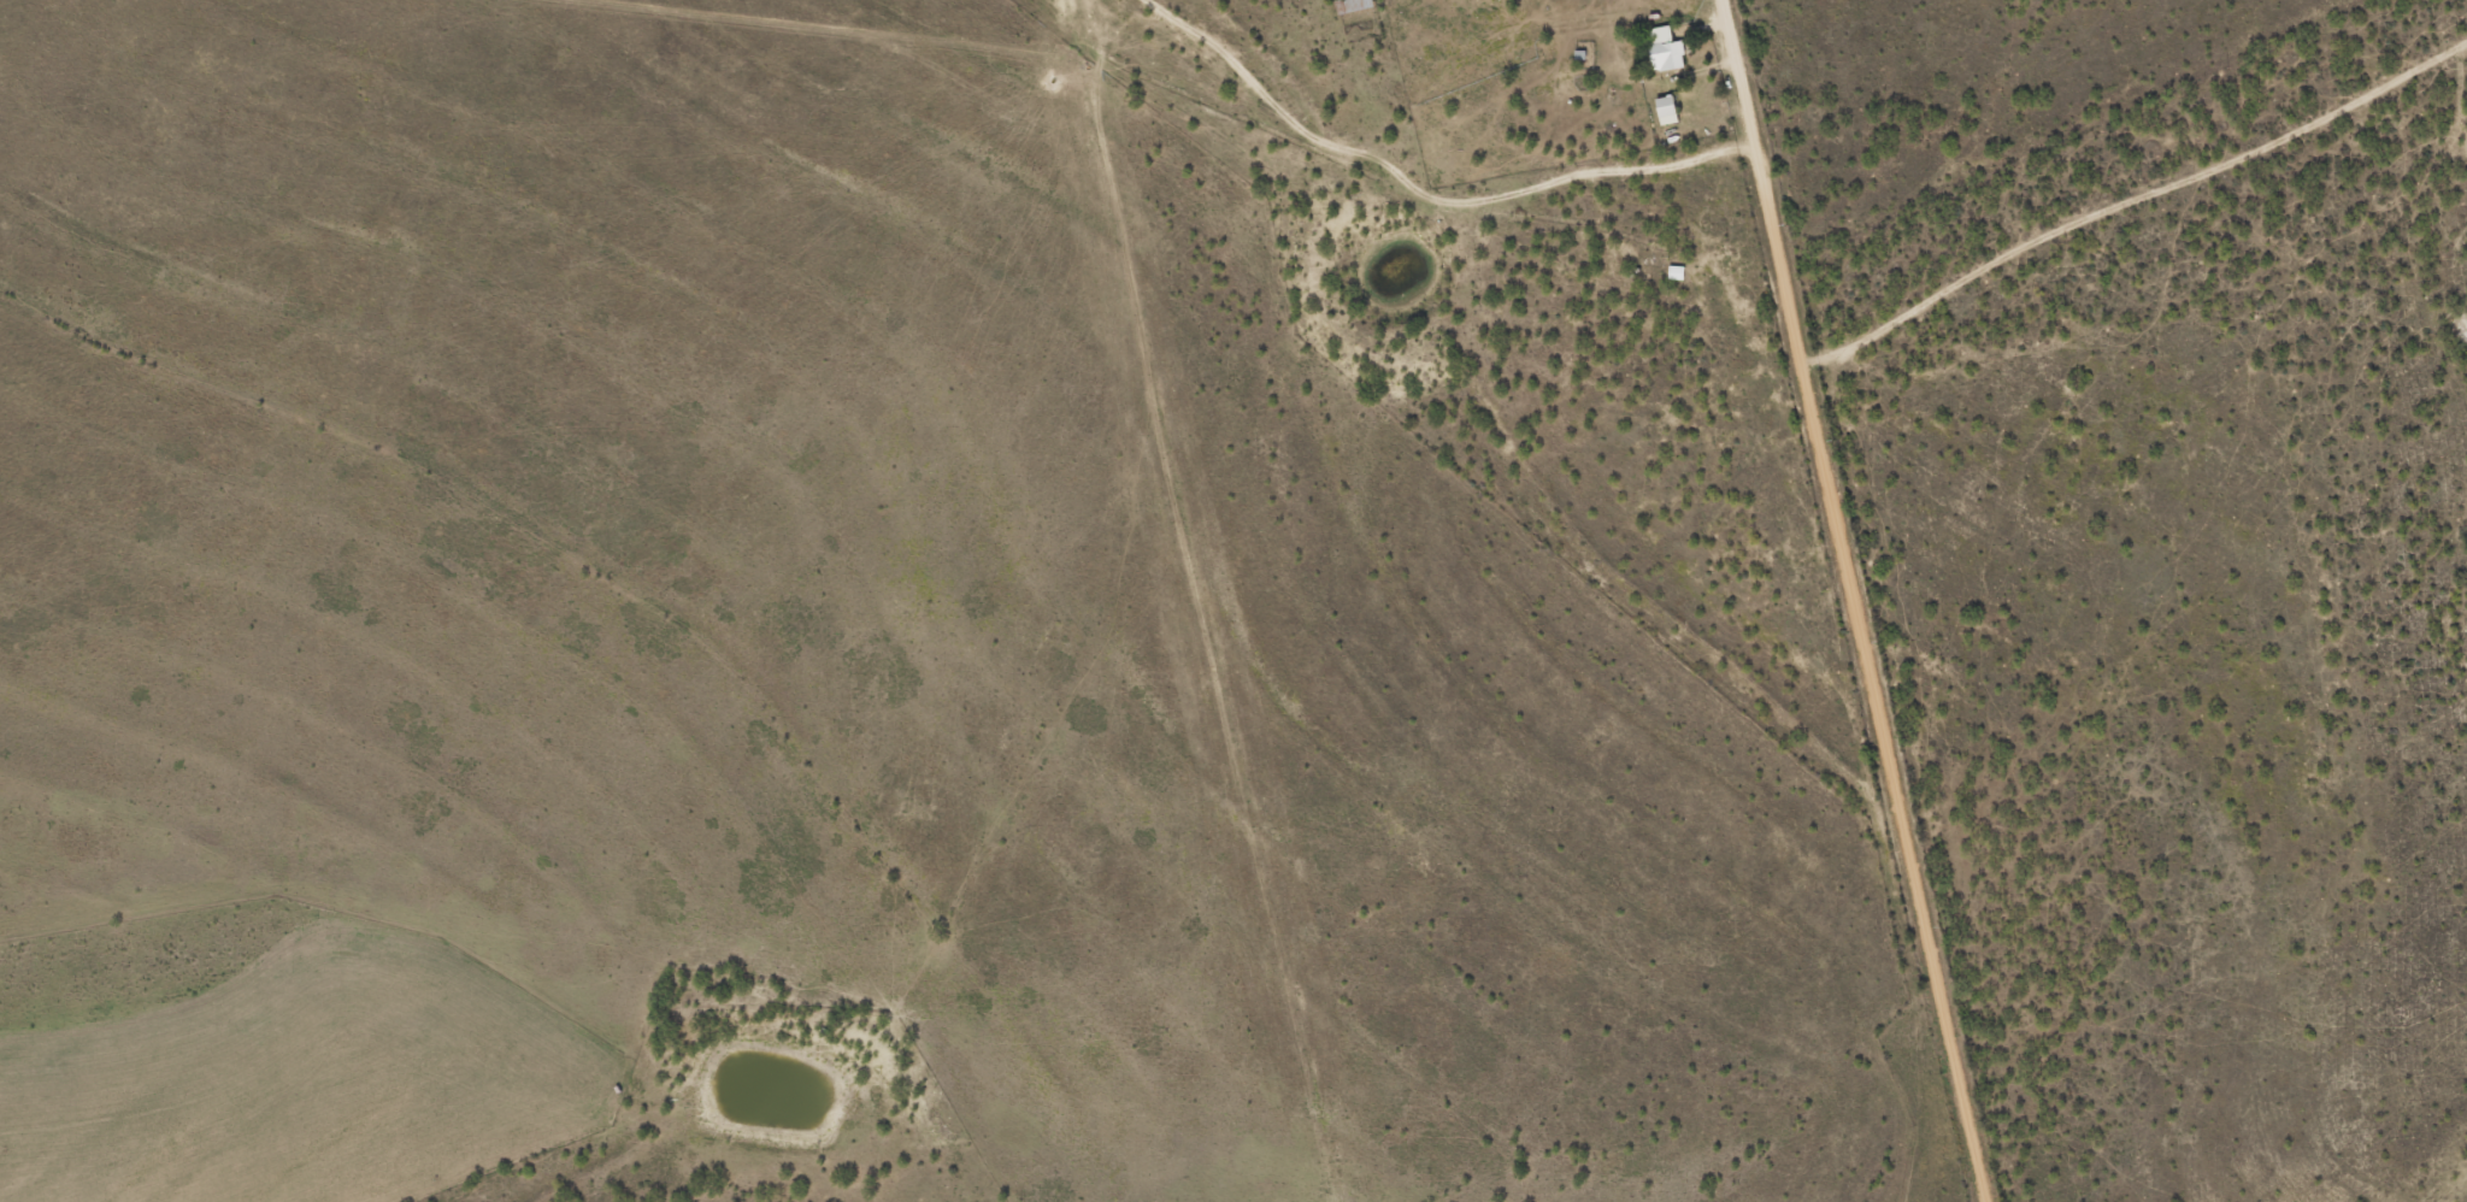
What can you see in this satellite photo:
building: (1353, 6)
building: (1666, 52)
building: (1667, 112)
road: (2143, 224)
building: (1677, 271)
road: (1845, 605)

